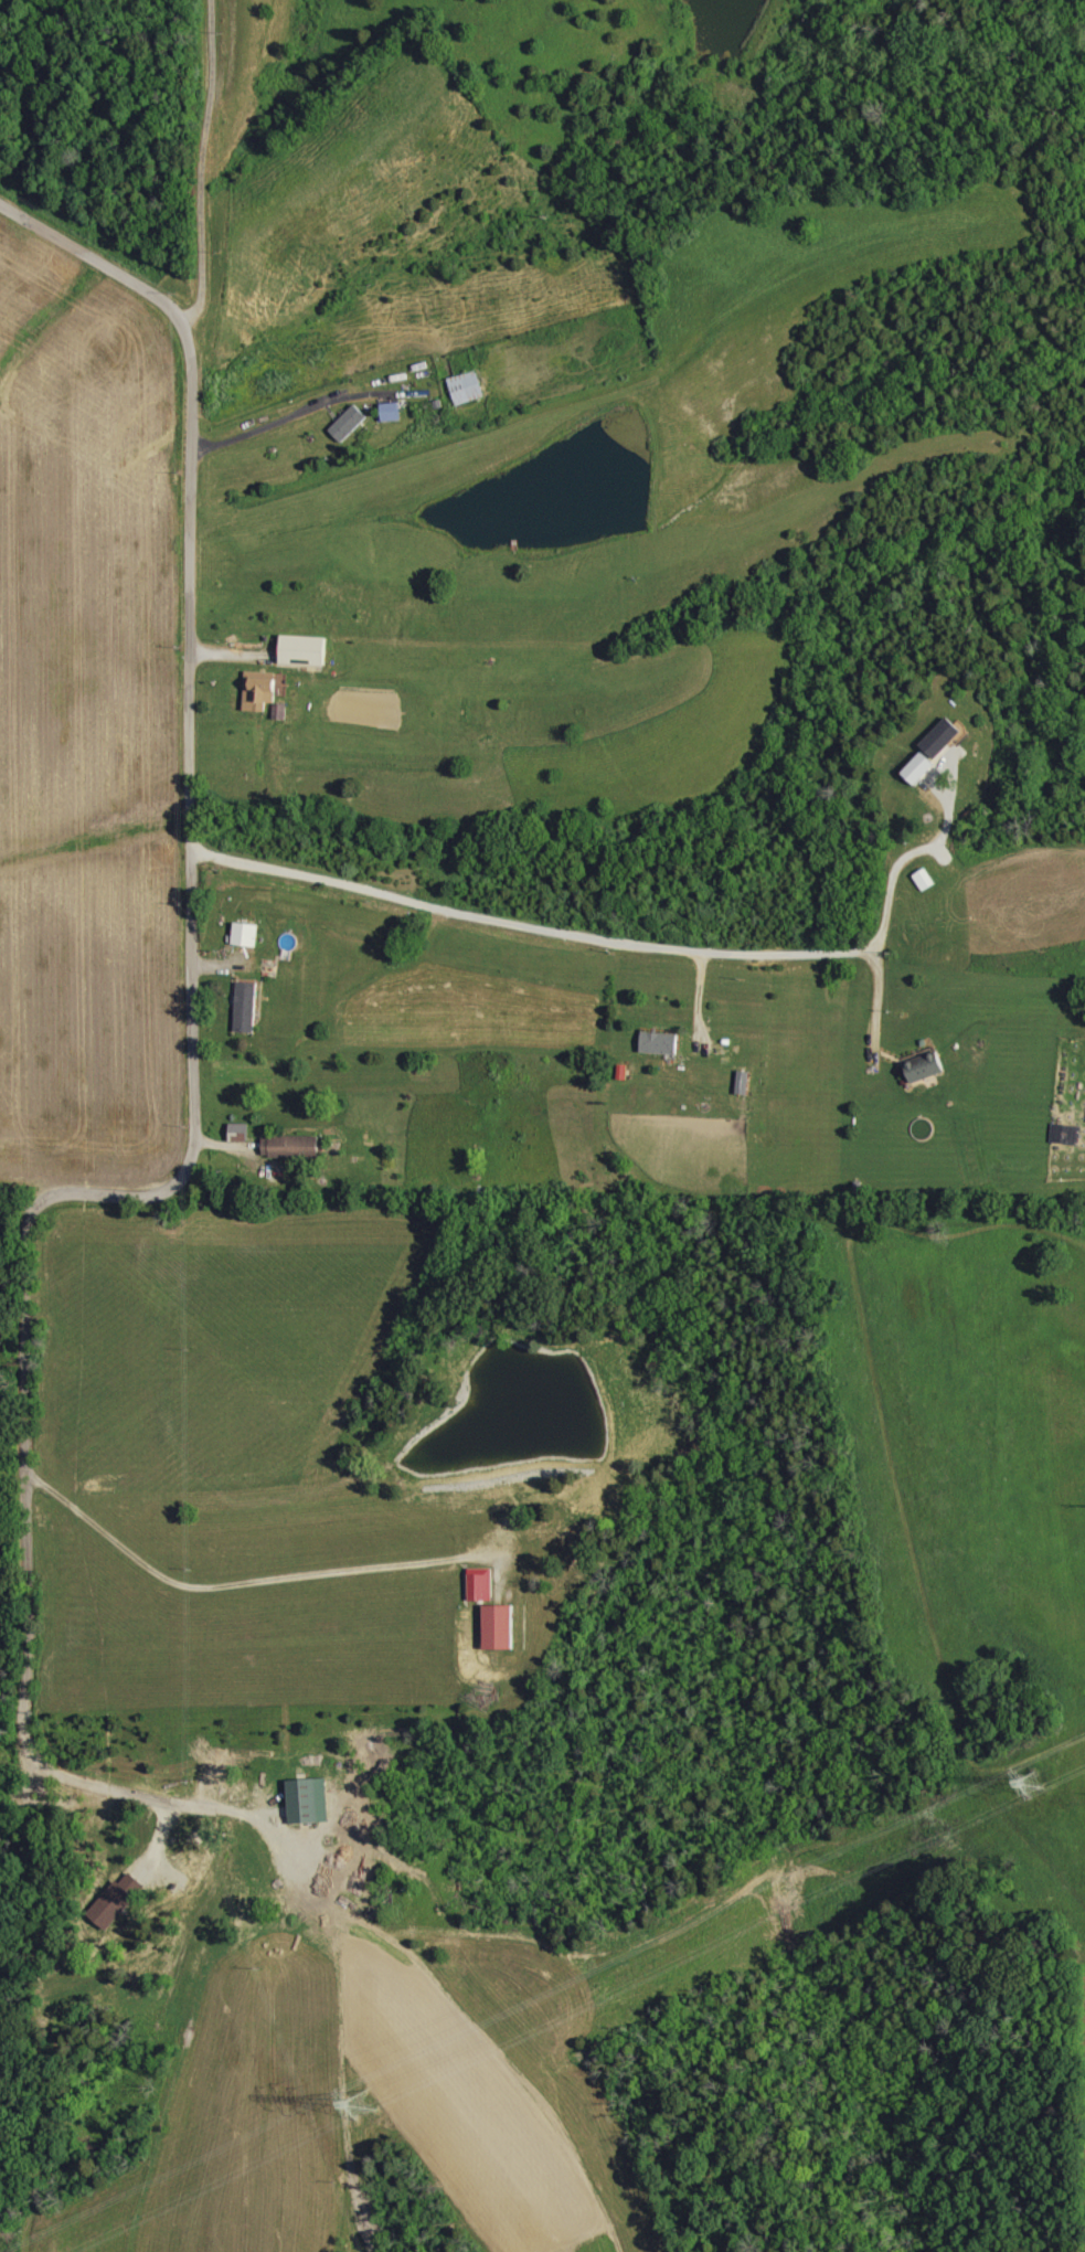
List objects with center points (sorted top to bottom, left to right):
road: (199, 162)
building: (467, 387)
building: (391, 412)
building: (349, 424)
road: (228, 647)
building: (304, 650)
building: (259, 689)
building: (942, 736)
building: (919, 767)
road: (922, 845)
road: (525, 924)
building: (245, 934)
road: (219, 963)
road: (877, 1005)
building: (246, 1006)
building: (659, 1042)
building: (926, 1066)
road: (190, 1126)
building: (238, 1132)
building: (290, 1146)
road: (10, 1361)
road: (253, 1581)
building: (481, 1584)
building: (499, 1627)
power tower: (1025, 1784)
building: (308, 1800)
building: (115, 1901)
power tower: (354, 2102)

